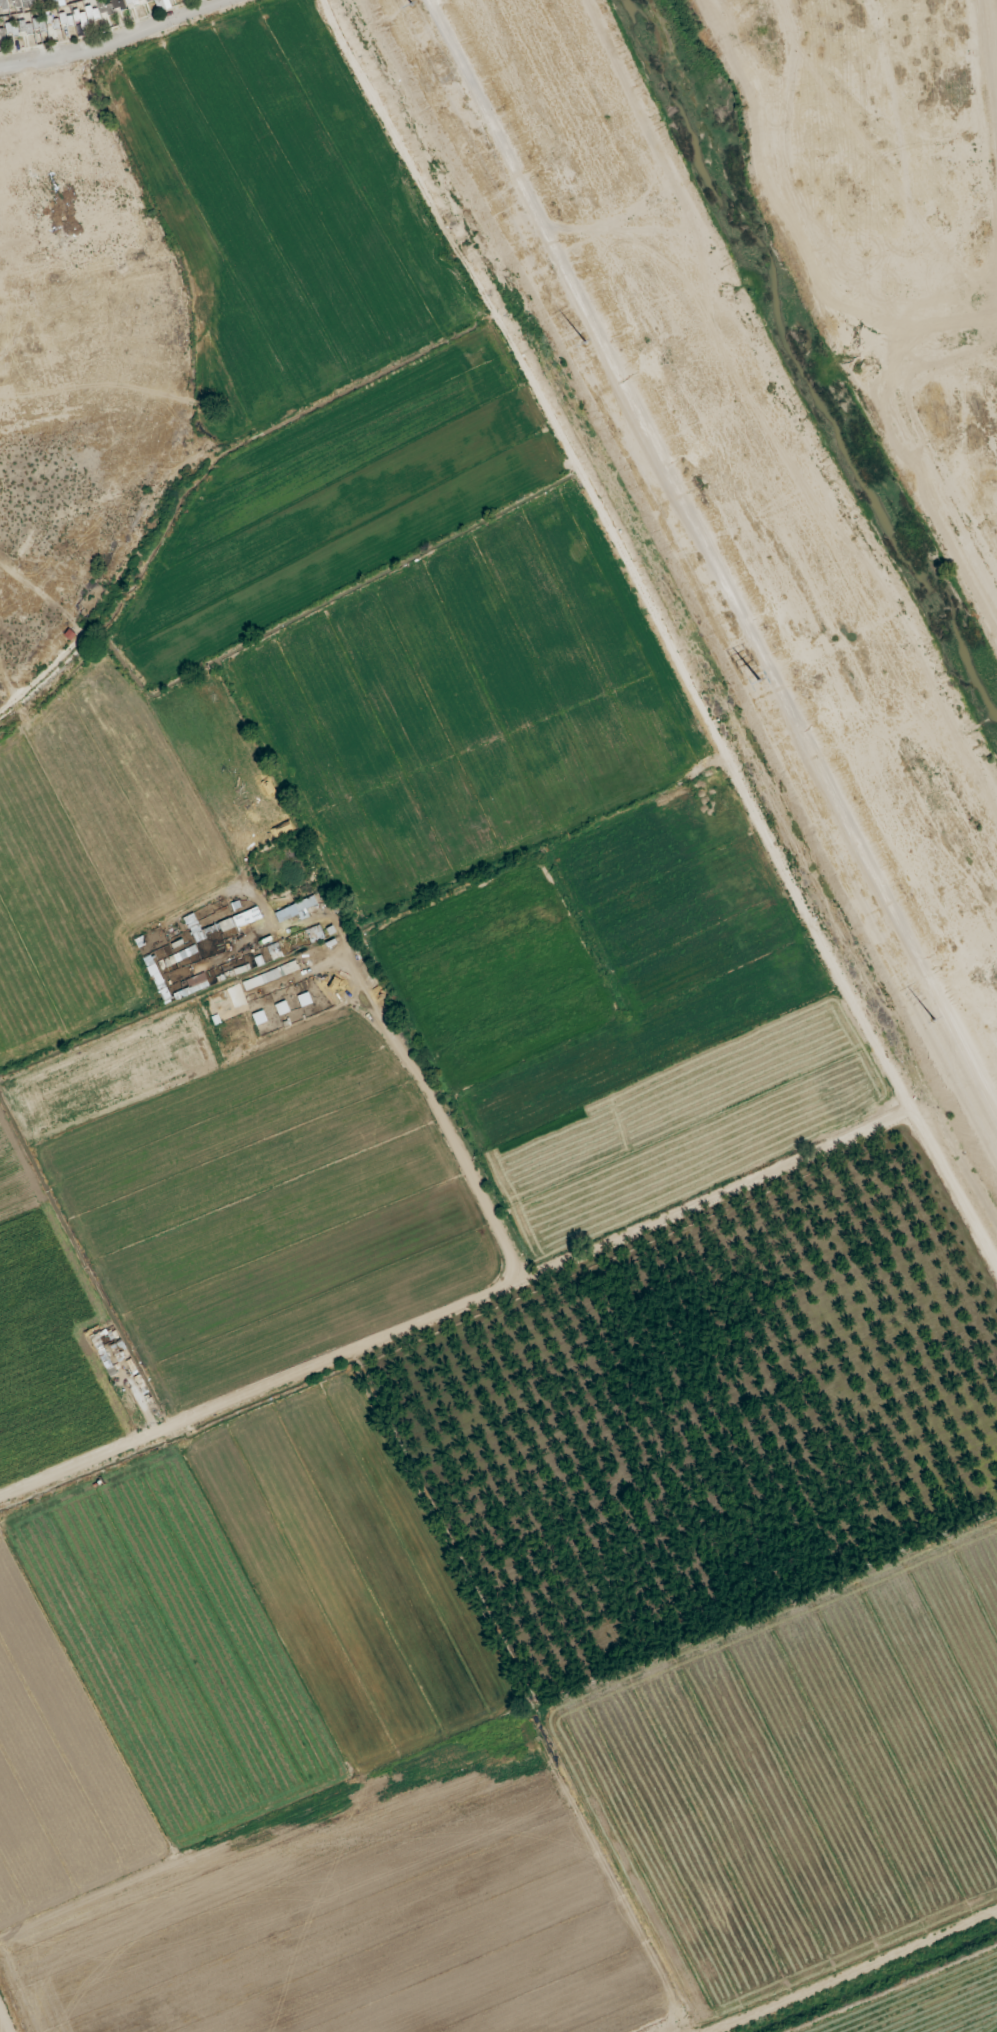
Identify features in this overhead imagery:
power tower: (406, 4)
road: (117, 42)
road: (345, 44)
power tower: (575, 337)
river: (810, 354)
power tower: (753, 682)
road: (737, 781)
power tower: (925, 1018)
road: (437, 1118)
road: (261, 1391)

